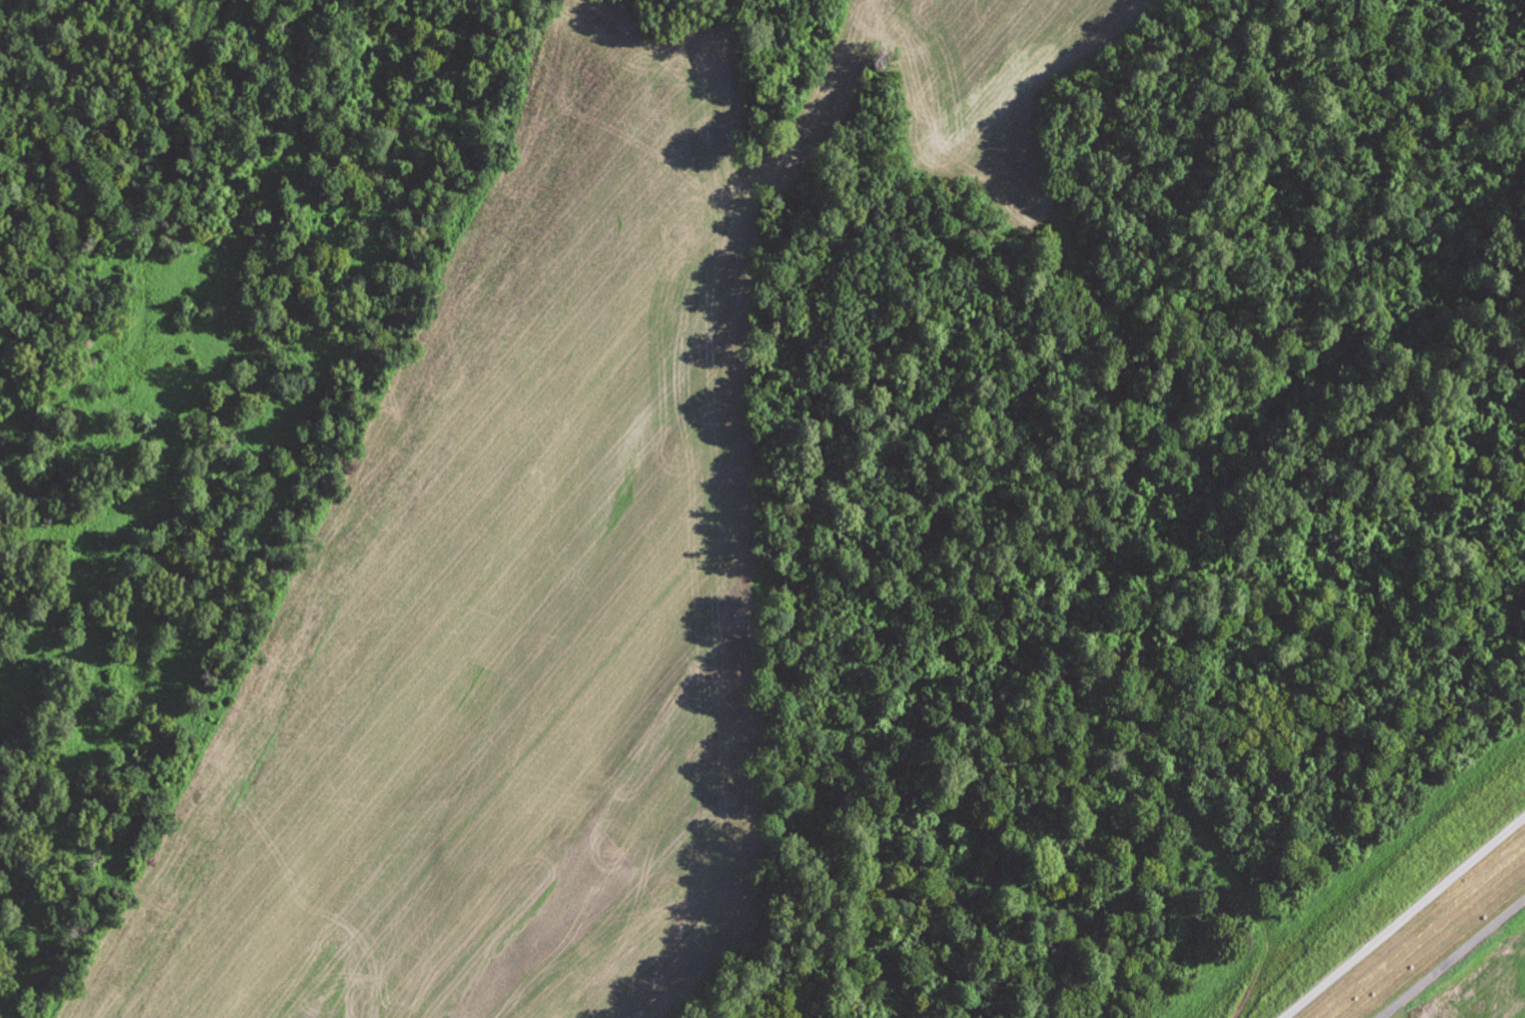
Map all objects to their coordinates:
road: (1405, 919)
road: (1452, 958)

